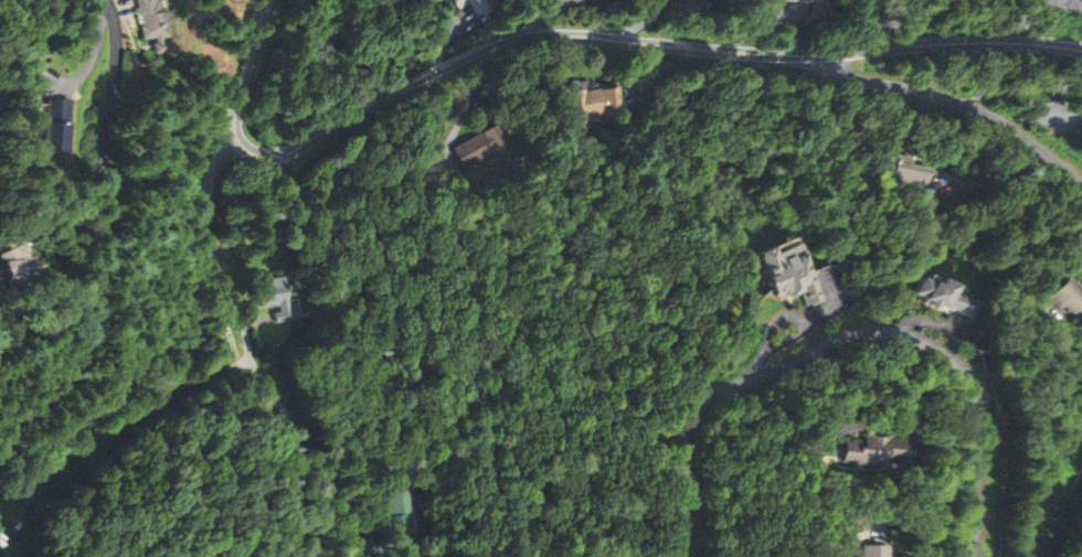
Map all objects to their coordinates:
building: (1062, 3)
building: (473, 6)
building: (155, 25)
road: (571, 34)
park: (289, 76)
road: (959, 99)
building: (587, 107)
building: (57, 125)
building: (477, 147)
road: (96, 234)
building: (22, 268)
building: (787, 271)
building: (274, 296)
building: (950, 297)
building: (1073, 299)
road: (234, 301)
road: (846, 339)
building: (881, 453)
road: (1043, 483)
building: (397, 513)
building: (870, 551)

